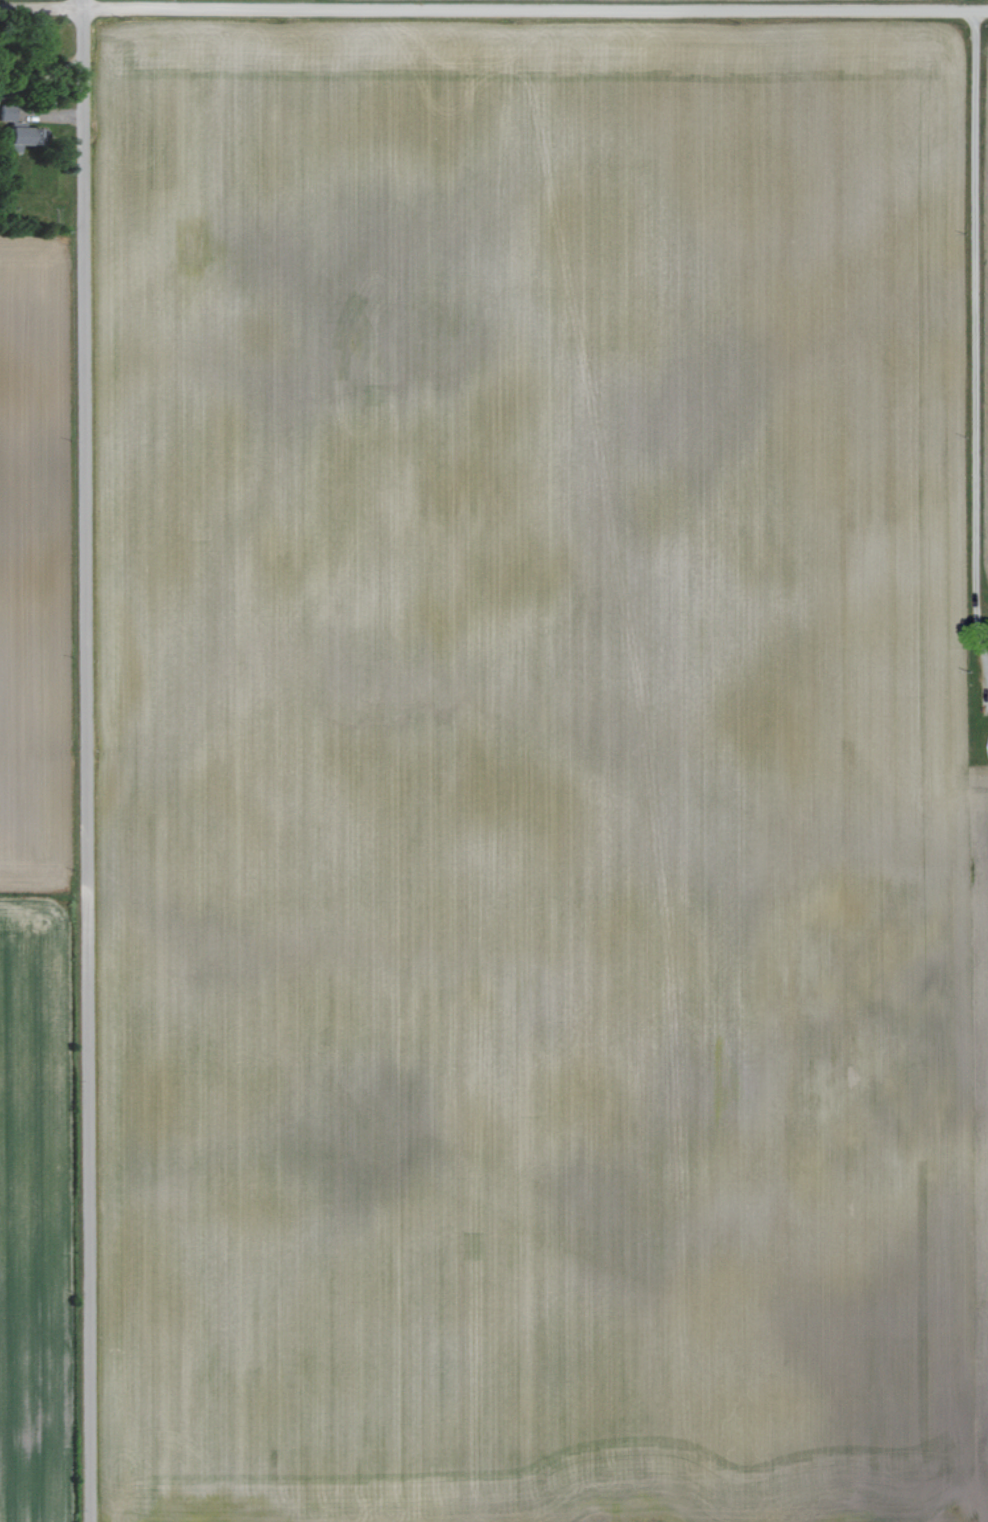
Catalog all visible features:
road: (494, 5)
building: (6, 113)
building: (14, 137)
road: (970, 344)
road: (84, 760)

